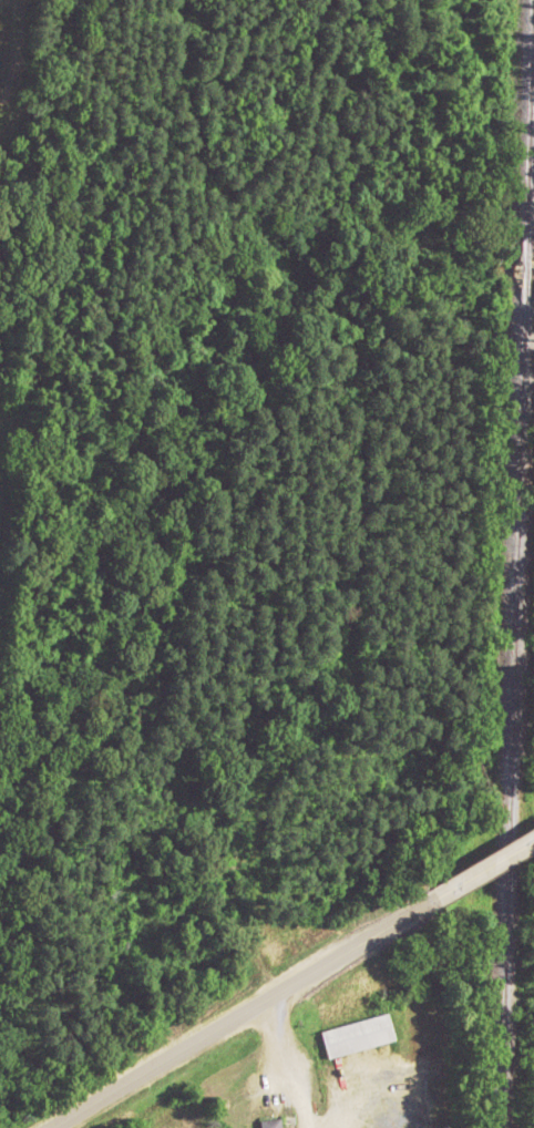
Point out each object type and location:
railway: (511, 563)
road: (485, 869)
road: (222, 1019)
building: (357, 1034)
road: (280, 1063)
building: (270, 1122)

